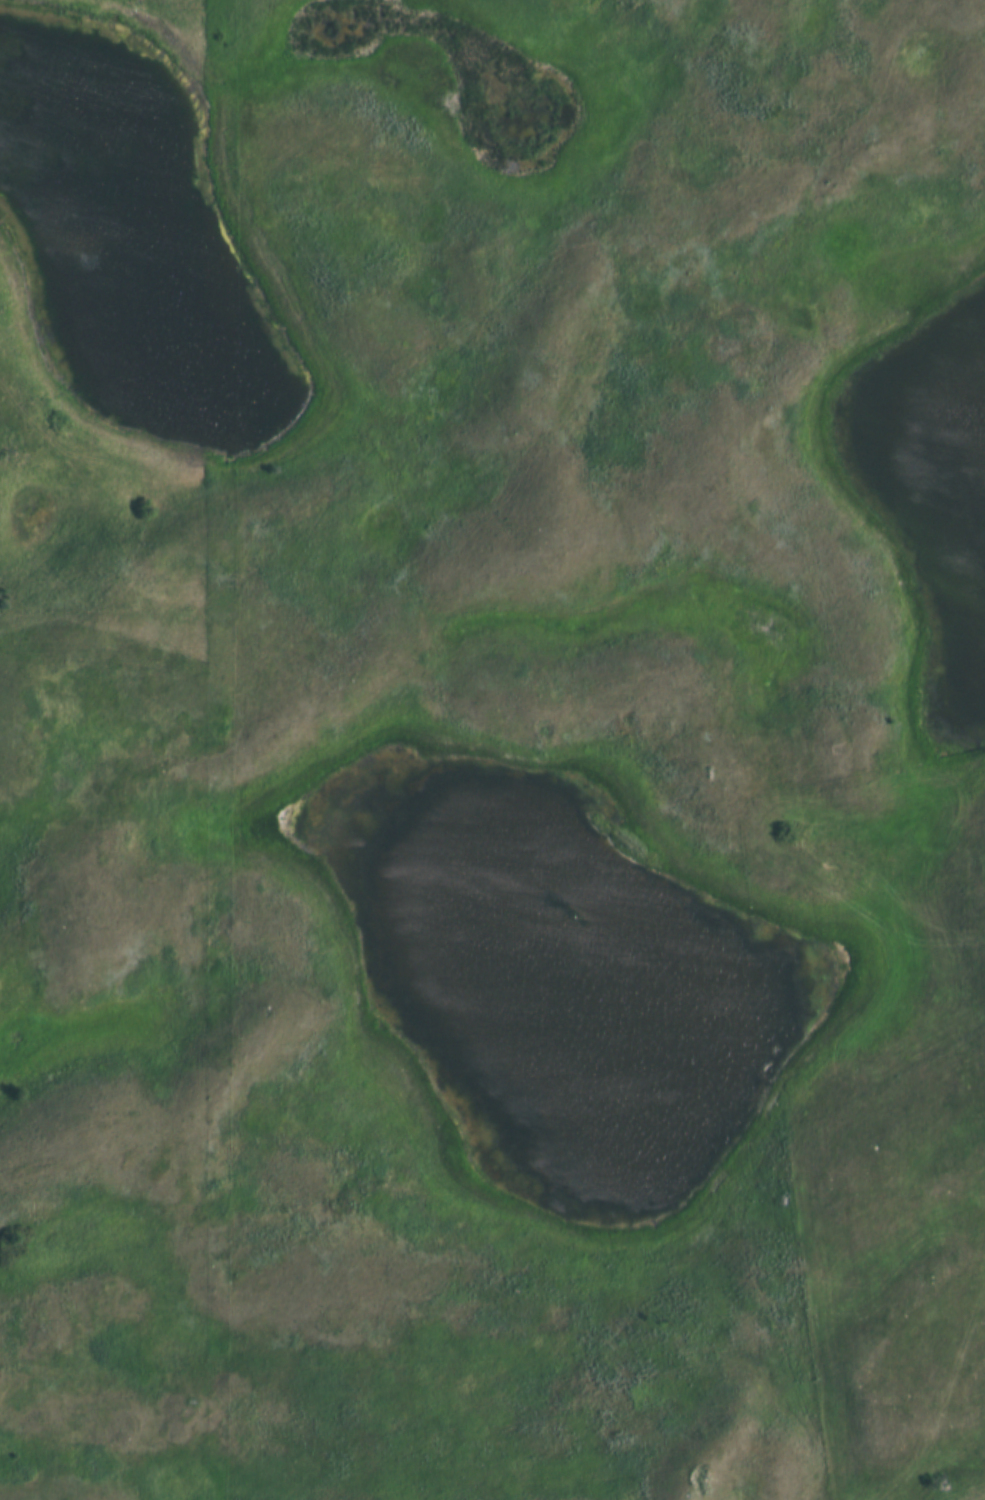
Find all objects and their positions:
road: (976, 1496)

